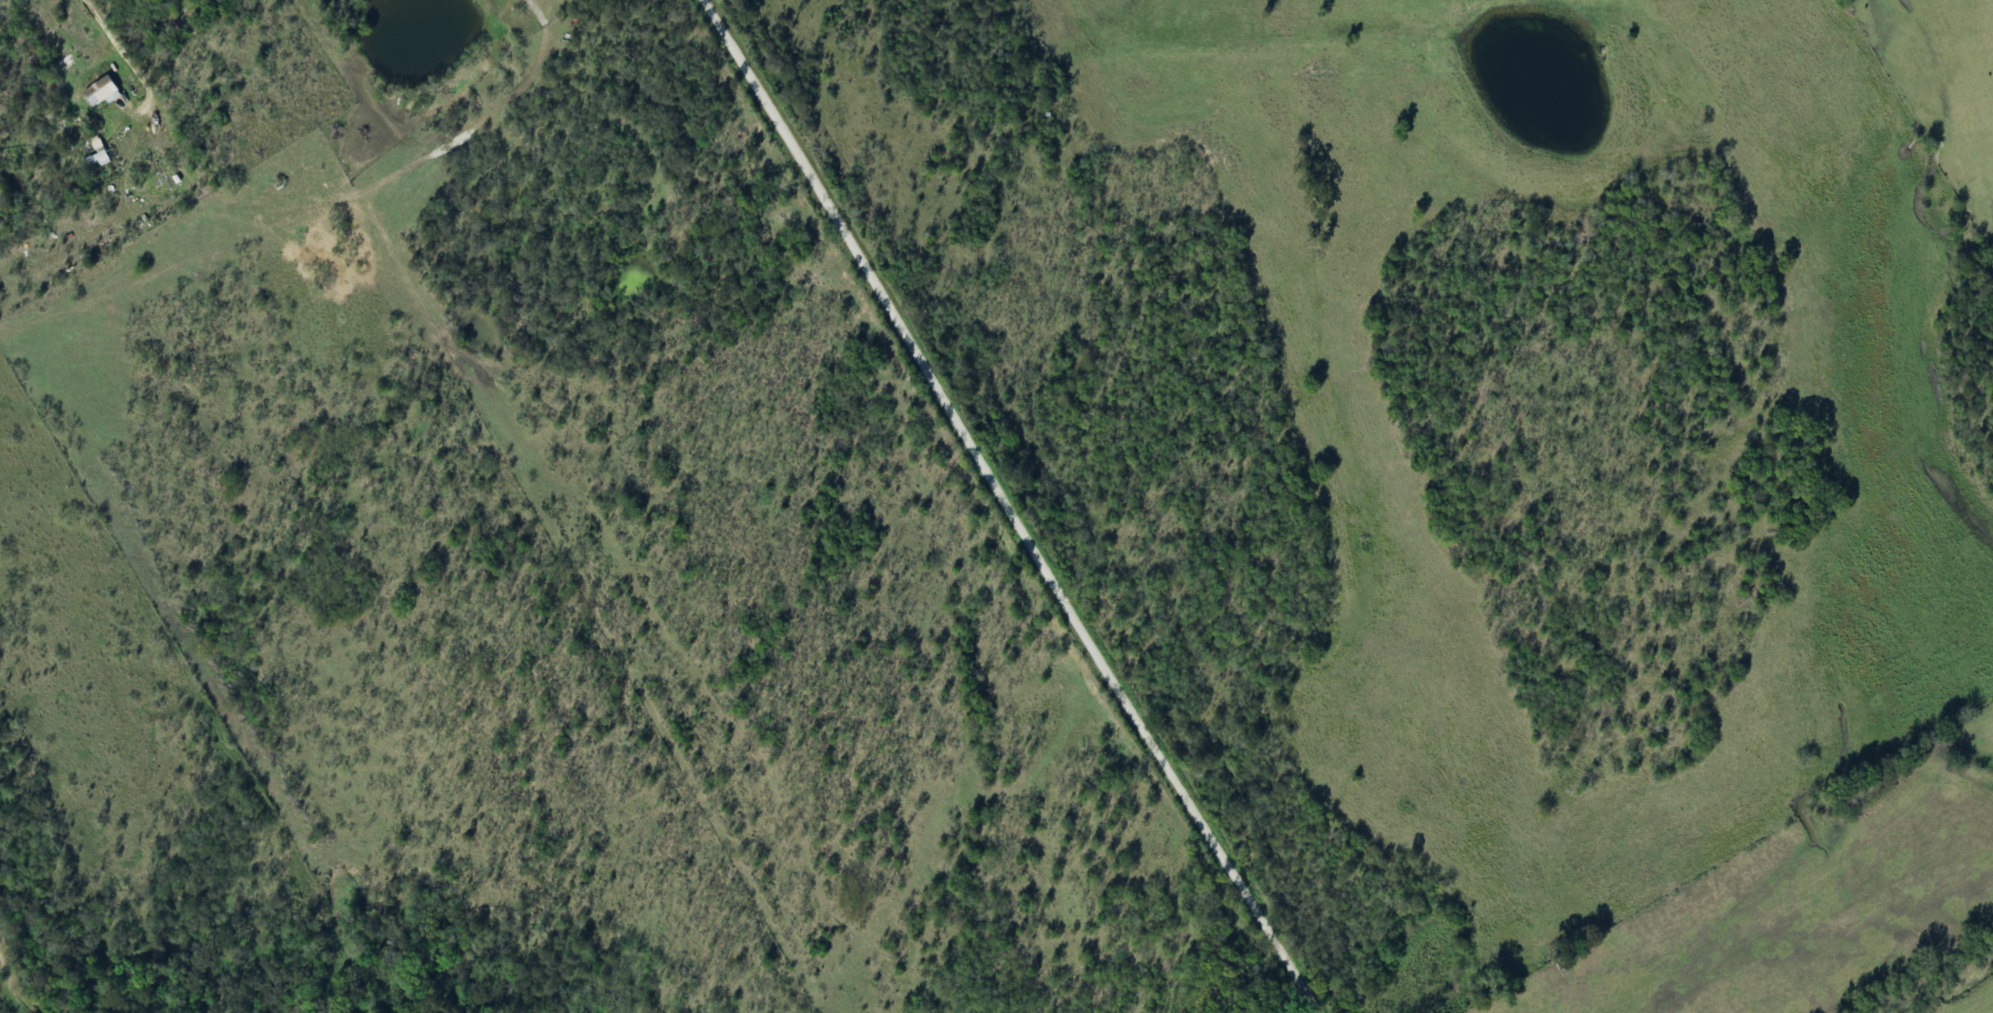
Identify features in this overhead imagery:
building: (100, 92)
road: (1906, 148)
building: (97, 157)
road: (1017, 508)

